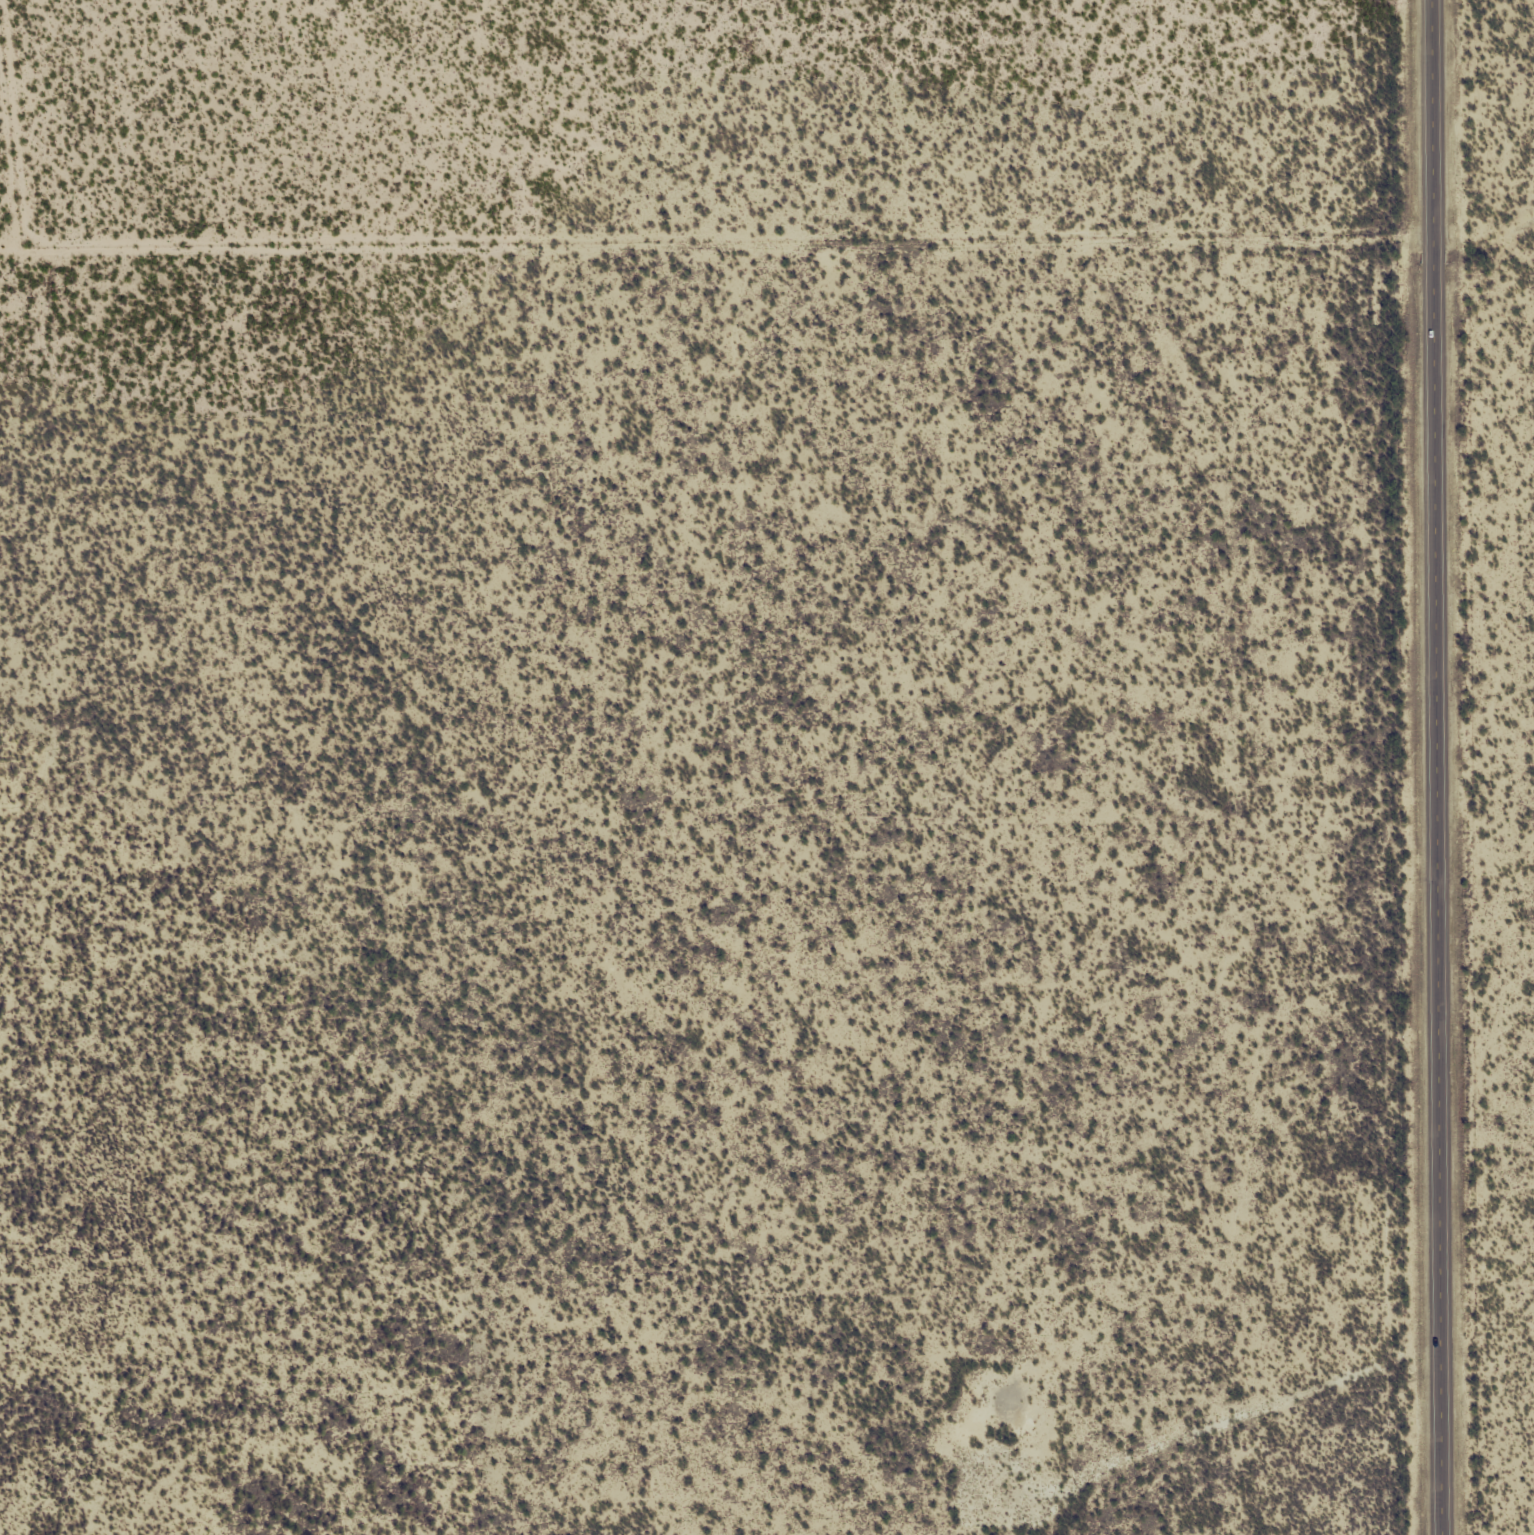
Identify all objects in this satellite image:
road: (1438, 767)

